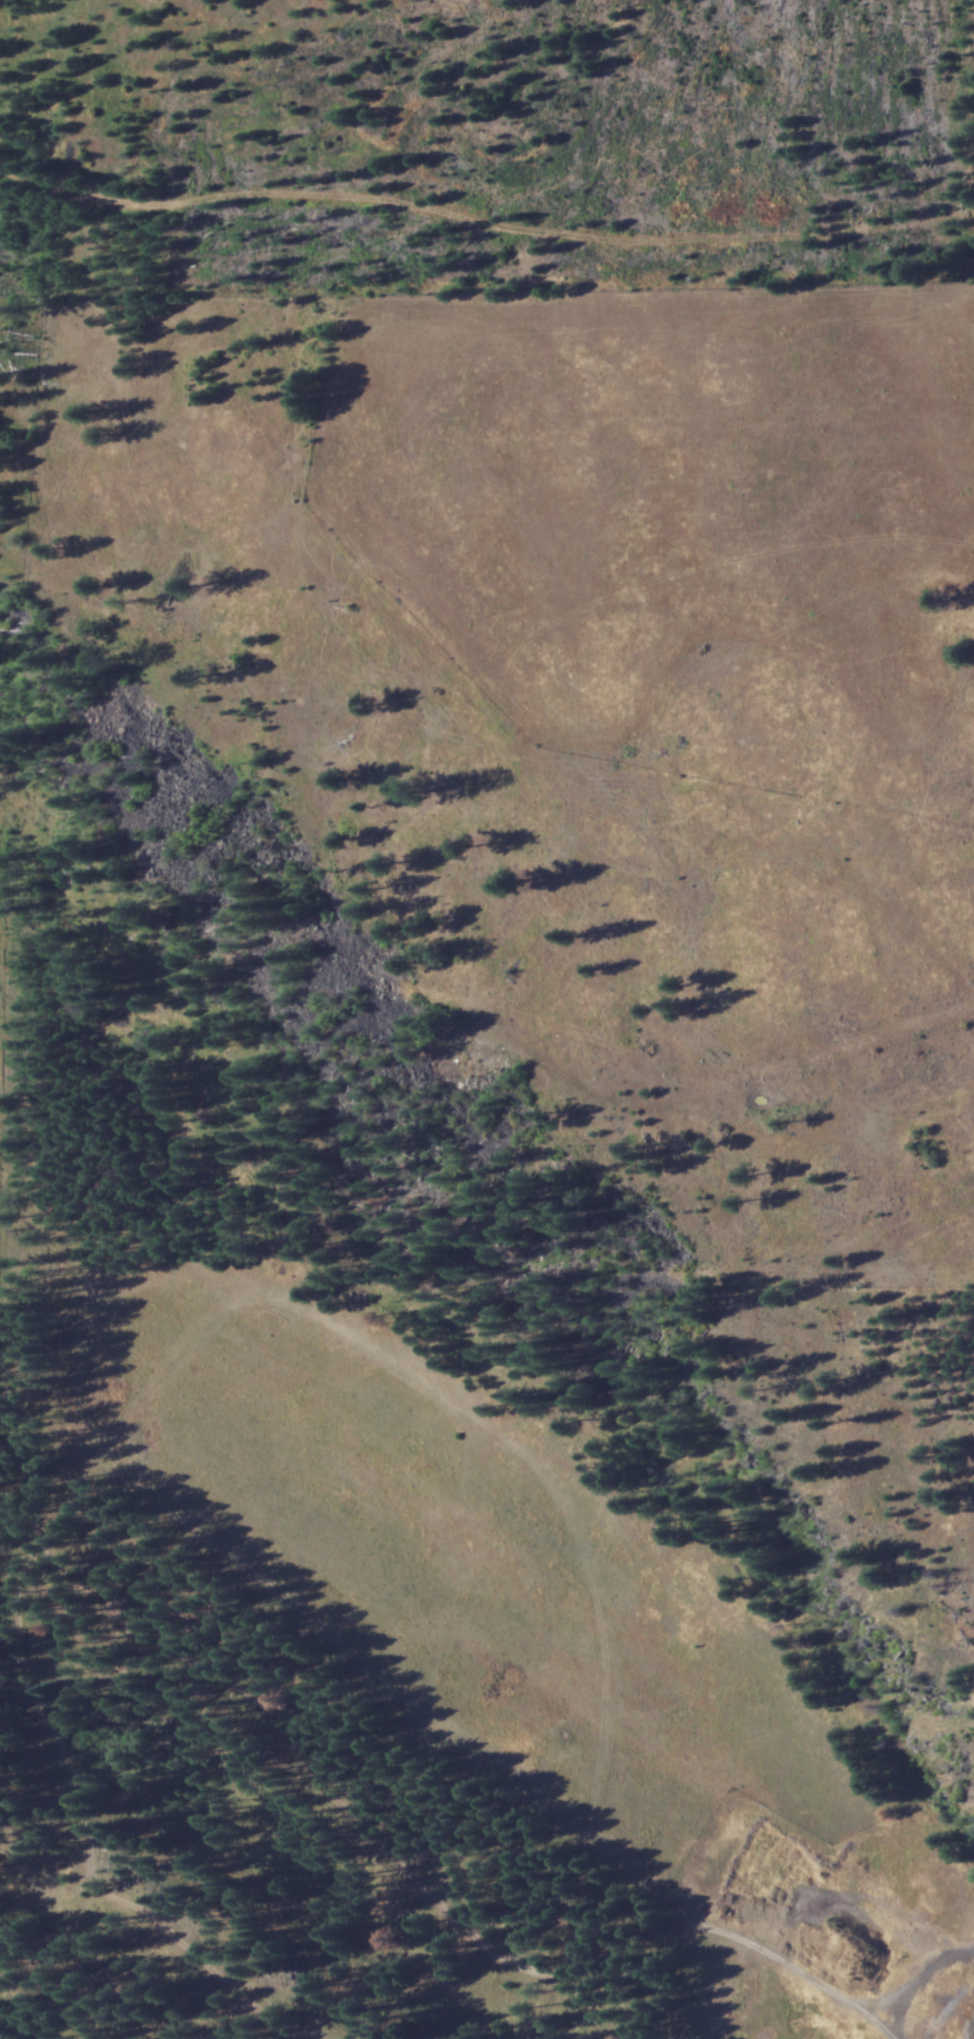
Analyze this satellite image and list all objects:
road: (915, 1984)

